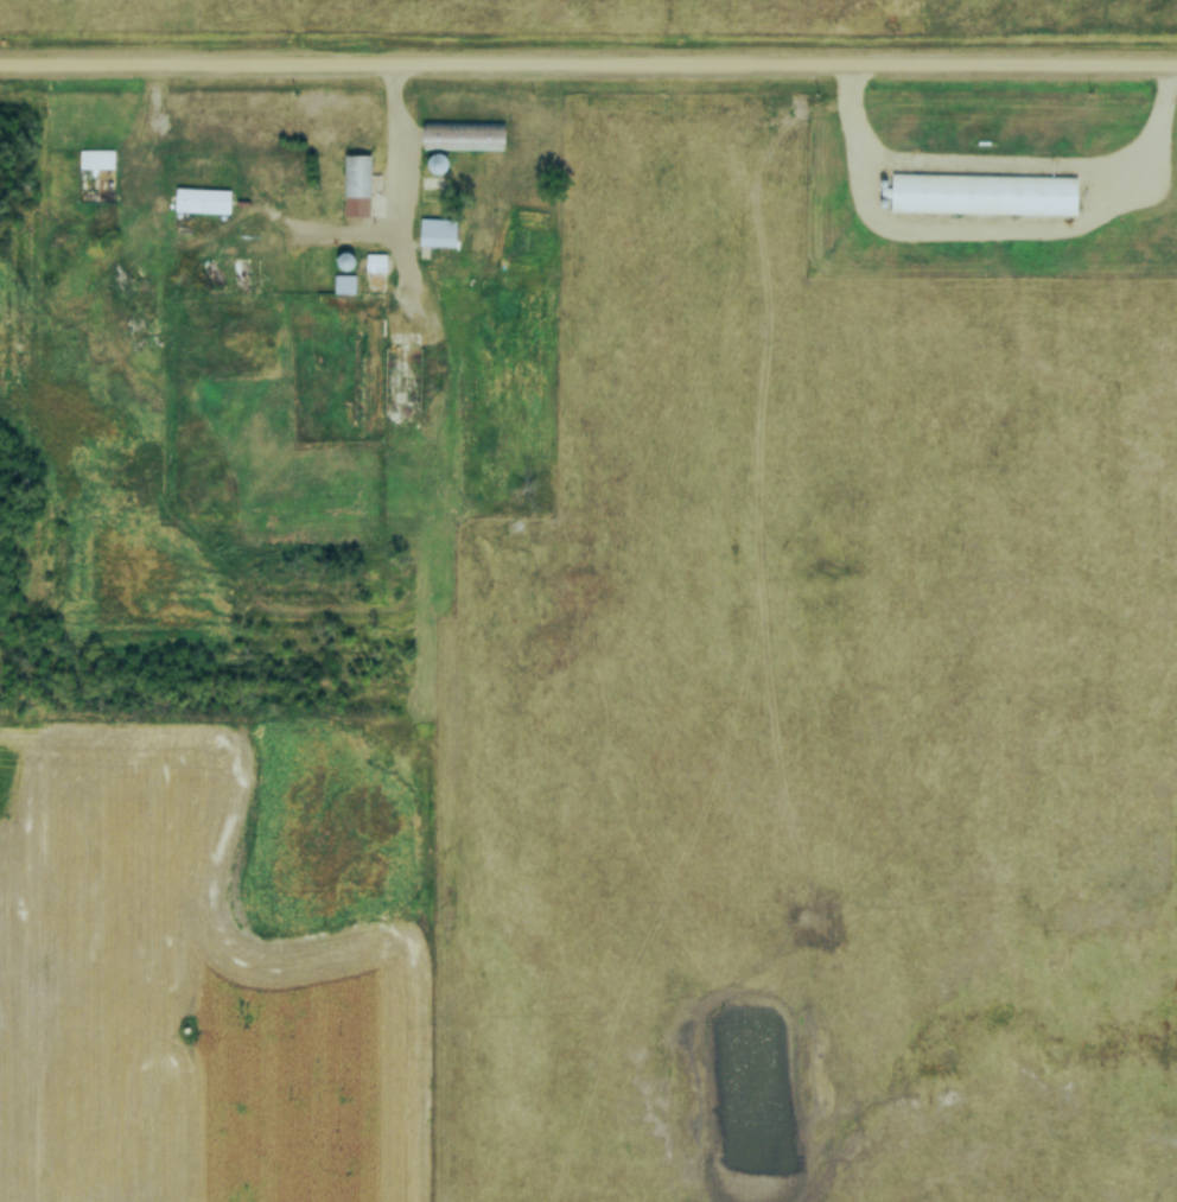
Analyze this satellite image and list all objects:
road: (587, 66)
building: (441, 135)
building: (95, 159)
building: (435, 164)
road: (395, 180)
building: (356, 185)
building: (982, 195)
building: (201, 201)
building: (435, 233)
building: (374, 263)
building: (343, 285)

